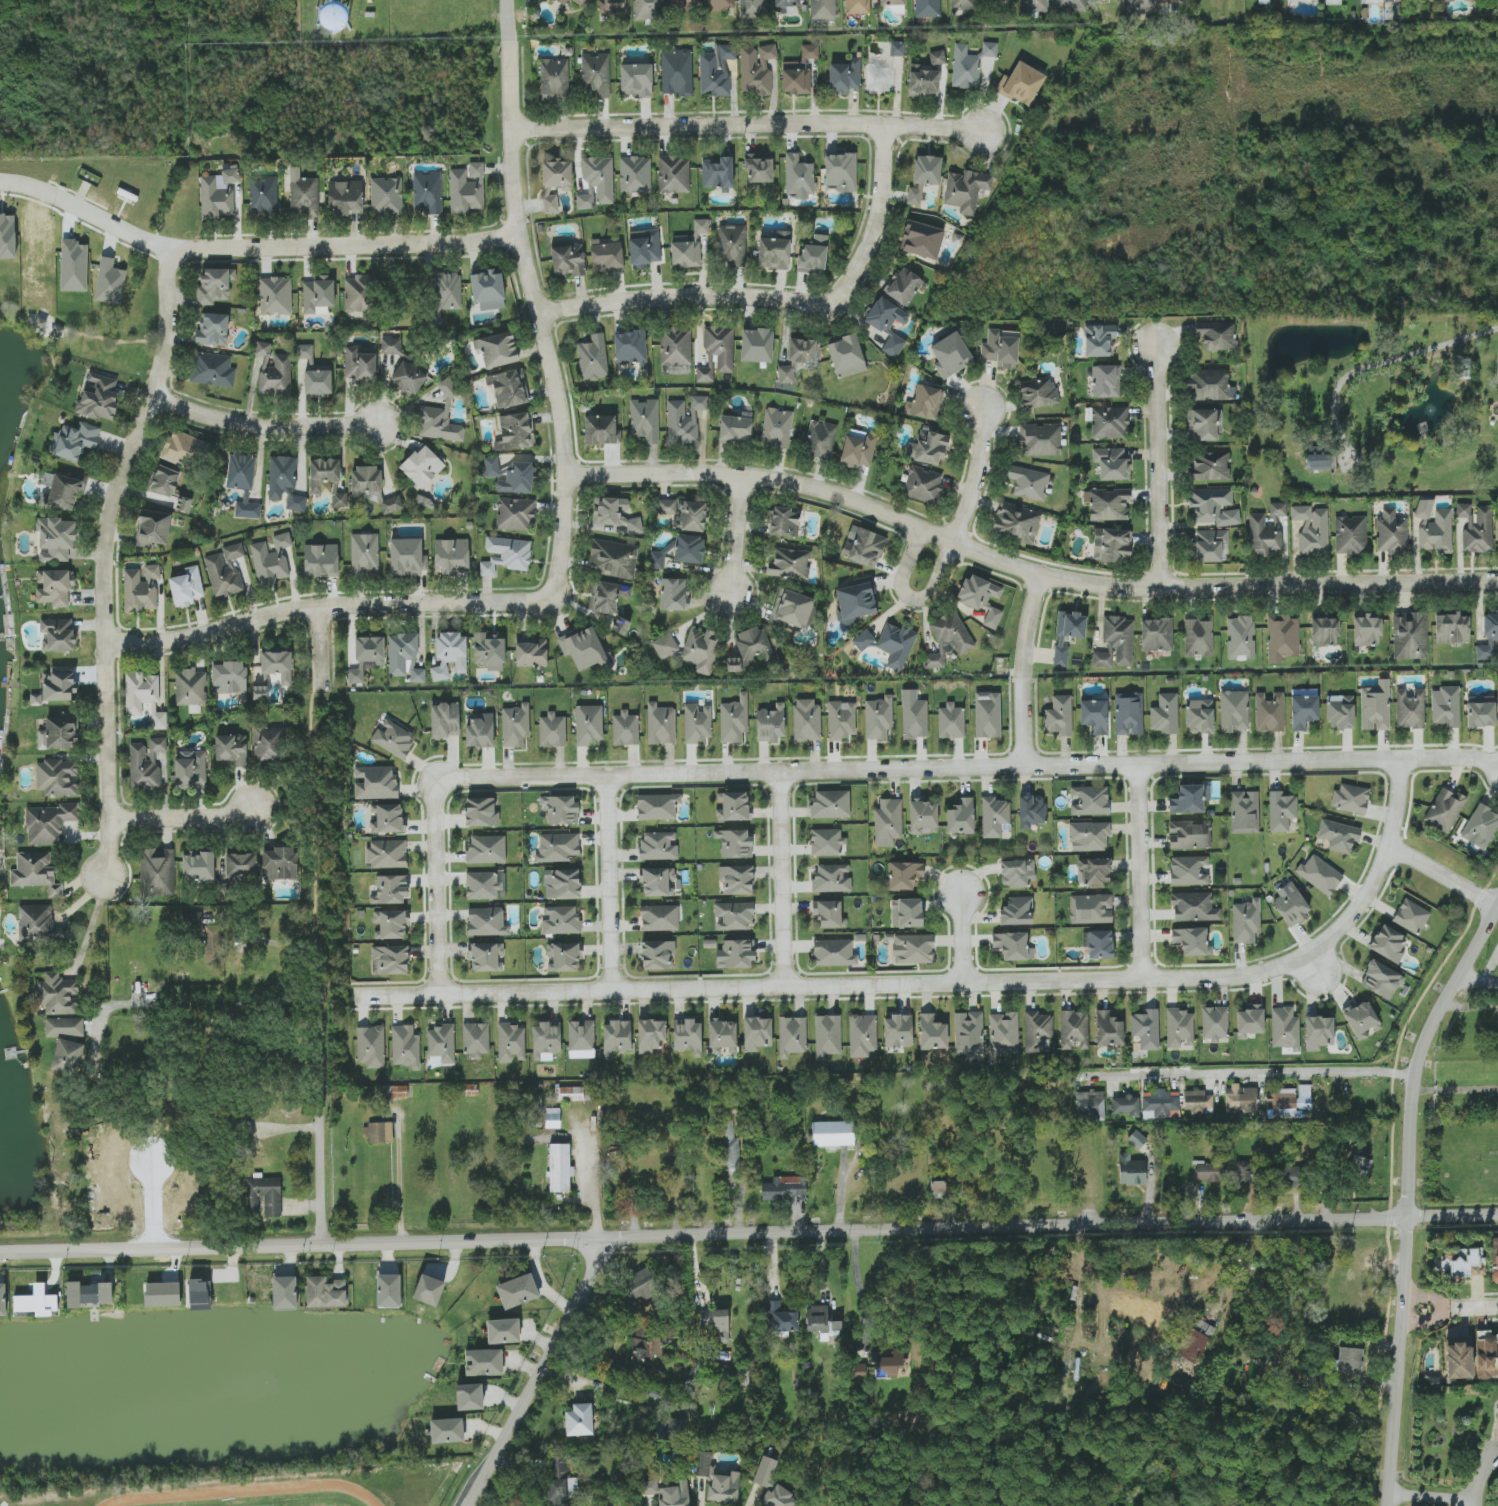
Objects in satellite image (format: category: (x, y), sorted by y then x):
building: (999, 0)
building: (1448, 0)
building: (563, 1)
building: (1172, 1)
building: (1373, 1)
building: (579, 2)
building: (684, 2)
building: (1332, 2)
building: (719, 4)
building: (963, 4)
building: (787, 5)
building: (894, 5)
building: (1035, 5)
building: (1070, 5)
building: (612, 6)
building: (857, 6)
building: (1140, 6)
building: (649, 8)
building: (751, 8)
building: (927, 8)
building: (823, 9)
water tower: (327, 16)
building: (937, 57)
building: (969, 64)
building: (756, 69)
building: (715, 70)
building: (676, 71)
building: (883, 71)
building: (799, 72)
building: (596, 74)
building: (844, 76)
building: (554, 79)
building: (636, 79)
building: (923, 82)
building: (1022, 83)
road: (748, 122)
building: (759, 168)
building: (717, 172)
building: (841, 173)
building: (556, 174)
building: (635, 174)
building: (674, 174)
building: (799, 176)
building: (923, 176)
building: (596, 182)
building: (467, 189)
building: (966, 190)
building: (427, 192)
building: (219, 194)
building: (303, 194)
building: (263, 195)
building: (387, 195)
building: (345, 198)
building: (550, 203)
road: (89, 213)
road: (879, 221)
building: (7, 235)
building: (922, 240)
building: (732, 244)
road: (342, 245)
building: (689, 246)
building: (644, 247)
building: (774, 251)
building: (607, 255)
building: (812, 255)
building: (568, 260)
building: (74, 265)
building: (109, 282)
building: (214, 285)
building: (904, 286)
building: (488, 289)
building: (447, 291)
building: (361, 293)
building: (318, 295)
building: (275, 296)
road: (685, 296)
road: (537, 301)
building: (886, 323)
building: (213, 329)
building: (1216, 335)
building: (1099, 340)
building: (757, 345)
building: (391, 346)
building: (675, 346)
building: (1001, 347)
building: (263, 348)
building: (631, 348)
building: (497, 350)
building: (801, 350)
building: (304, 351)
building: (716, 353)
building: (951, 355)
building: (846, 356)
building: (593, 358)
road: (1387, 360)
building: (360, 366)
building: (213, 369)
building: (787, 373)
building: (275, 375)
building: (408, 378)
building: (1106, 380)
building: (318, 382)
building: (1211, 384)
building: (449, 387)
building: (509, 388)
building: (1038, 393)
building: (99, 397)
building: (699, 402)
building: (927, 402)
building: (645, 420)
building: (1109, 422)
building: (681, 423)
road: (261, 424)
building: (438, 424)
building: (1205, 424)
building: (736, 428)
building: (776, 428)
building: (601, 430)
building: (514, 431)
building: (1040, 439)
building: (821, 440)
building: (76, 441)
building: (928, 447)
building: (858, 448)
building: (185, 449)
building: (1318, 458)
building: (1112, 463)
building: (1210, 465)
building: (422, 466)
road: (1161, 468)
building: (281, 475)
building: (509, 475)
road: (976, 477)
building: (47, 479)
building: (327, 480)
building: (164, 481)
building: (1028, 482)
building: (243, 484)
building: (923, 485)
building: (372, 488)
building: (63, 492)
building: (295, 500)
building: (1107, 503)
building: (667, 506)
building: (1213, 506)
building: (1277, 509)
building: (515, 514)
building: (614, 514)
building: (690, 516)
building: (783, 522)
building: (1016, 522)
building: (154, 528)
building: (1433, 528)
building: (1476, 528)
building: (1312, 530)
building: (1391, 533)
road: (738, 534)
building: (1350, 535)
building: (1264, 537)
building: (56, 538)
building: (1112, 545)
building: (1211, 545)
building: (864, 548)
building: (689, 549)
building: (505, 554)
building: (365, 555)
building: (407, 556)
building: (451, 556)
building: (272, 559)
building: (613, 559)
building: (321, 560)
building: (657, 560)
building: (790, 563)
road: (101, 564)
road: (1025, 569)
building: (225, 570)
building: (187, 586)
building: (55, 587)
building: (141, 588)
building: (978, 591)
building: (674, 594)
building: (607, 597)
road: (911, 597)
building: (855, 602)
road: (325, 606)
building: (793, 609)
building: (992, 617)
building: (621, 625)
building: (1451, 627)
building: (1367, 630)
building: (1324, 631)
building: (57, 634)
building: (1067, 634)
building: (1156, 634)
building: (1198, 636)
building: (1410, 636)
building: (1282, 637)
building: (948, 638)
building: (1240, 638)
building: (1489, 638)
building: (1116, 642)
building: (891, 644)
road: (317, 645)
building: (665, 646)
building: (583, 648)
building: (702, 649)
building: (749, 649)
building: (489, 650)
building: (449, 654)
building: (367, 657)
building: (404, 657)
building: (277, 665)
road: (1025, 670)
building: (229, 677)
building: (59, 685)
building: (191, 687)
building: (260, 692)
building: (143, 697)
building: (36, 699)
building: (1375, 706)
building: (1445, 706)
building: (1410, 709)
building: (1233, 710)
building: (1303, 711)
building: (1480, 711)
building: (1269, 712)
building: (1340, 712)
building: (1128, 713)
building: (987, 714)
building: (1165, 714)
building: (914, 715)
building: (1094, 715)
building: (1059, 716)
building: (1200, 716)
building: (878, 718)
building: (734, 719)
building: (807, 719)
building: (445, 720)
building: (842, 720)
building: (951, 721)
building: (697, 722)
building: (589, 724)
building: (661, 724)
building: (770, 724)
building: (515, 725)
building: (625, 728)
building: (479, 730)
building: (552, 730)
building: (59, 733)
building: (393, 738)
building: (268, 745)
building: (231, 750)
building: (146, 763)
road: (965, 767)
building: (191, 769)
building: (57, 777)
building: (375, 782)
building: (1350, 798)
building: (1190, 799)
building: (1089, 800)
building: (830, 804)
building: (657, 806)
building: (733, 806)
building: (561, 809)
building: (1031, 810)
building: (1281, 810)
building: (1444, 810)
building: (482, 811)
building: (1244, 811)
building: (923, 815)
building: (961, 816)
building: (994, 816)
road: (179, 818)
building: (386, 818)
building: (888, 822)
building: (49, 823)
building: (1480, 826)
building: (1189, 834)
building: (1089, 836)
building: (1339, 836)
building: (827, 842)
building: (734, 843)
building: (657, 846)
building: (557, 847)
building: (486, 849)
building: (387, 853)
building: (279, 863)
building: (241, 865)
building: (198, 866)
building: (1189, 870)
building: (35, 871)
building: (157, 871)
building: (1016, 872)
building: (1093, 872)
road: (1141, 873)
building: (1319, 874)
building: (903, 875)
road: (1444, 875)
building: (831, 878)
building: (736, 879)
road: (783, 880)
building: (658, 882)
building: (563, 883)
road: (611, 883)
building: (482, 885)
road: (433, 887)
building: (389, 889)
building: (1291, 905)
building: (1194, 907)
building: (1090, 908)
building: (1017, 911)
building: (906, 912)
building: (829, 913)
building: (733, 916)
building: (1411, 916)
building: (659, 917)
building: (560, 920)
building: (486, 921)
building: (1246, 921)
building: (389, 924)
building: (40, 925)
road: (91, 925)
building: (212, 936)
road: (962, 937)
building: (1190, 940)
building: (1387, 943)
building: (1100, 944)
road: (1479, 944)
building: (1013, 945)
building: (913, 949)
building: (834, 952)
building: (737, 953)
building: (657, 955)
building: (486, 956)
building: (563, 956)
building: (390, 959)
building: (1380, 979)
road: (1478, 982)
road: (949, 983)
building: (58, 994)
road: (195, 1001)
road: (317, 1003)
building: (1362, 1019)
building: (1250, 1021)
building: (1214, 1023)
building: (64, 1027)
building: (1179, 1028)
building: (1285, 1028)
building: (1108, 1029)
building: (1146, 1029)
building: (1074, 1030)
building: (898, 1031)
building: (932, 1032)
building: (1038, 1032)
building: (1318, 1032)
building: (757, 1033)
building: (968, 1033)
building: (1003, 1033)
building: (650, 1035)
building: (792, 1035)
building: (827, 1035)
building: (862, 1035)
building: (687, 1036)
building: (721, 1036)
building: (616, 1037)
building: (476, 1039)
building: (581, 1039)
building: (545, 1040)
building: (510, 1042)
building: (441, 1043)
building: (371, 1046)
building: (405, 1046)
building: (67, 1057)
road: (1248, 1070)
road: (1456, 1084)
building: (398, 1091)
building: (569, 1094)
building: (1288, 1097)
building: (1241, 1099)
building: (1197, 1102)
building: (1160, 1103)
building: (1089, 1104)
building: (1126, 1105)
building: (552, 1118)
building: (378, 1132)
building: (832, 1133)
building: (1137, 1139)
building: (730, 1145)
building: (560, 1167)
building: (1131, 1170)
building: (1208, 1171)
building: (1242, 1173)
road: (1391, 1175)
building: (1292, 1176)
road: (322, 1178)
building: (785, 1187)
road: (399, 1188)
building: (937, 1188)
building: (263, 1196)
road: (749, 1232)
road: (1406, 1237)
building: (1494, 1260)
building: (1467, 1262)
road: (857, 1281)
building: (642, 1284)
building: (388, 1290)
building: (428, 1290)
building: (517, 1291)
building: (325, 1292)
building: (88, 1293)
building: (284, 1293)
building: (161, 1294)
building: (199, 1294)
building: (3, 1299)
building: (37, 1301)
road: (1470, 1307)
building: (1140, 1309)
road: (1441, 1309)
building: (780, 1319)
building: (820, 1321)
building: (715, 1323)
building: (503, 1331)
building: (1192, 1345)
building: (645, 1346)
building: (1486, 1354)
building: (1457, 1359)
building: (1349, 1360)
building: (483, 1362)
building: (888, 1366)
road: (535, 1370)
building: (469, 1396)
building: (579, 1420)
building: (446, 1430)
building: (704, 1463)
park: (1123, 1464)
building: (766, 1471)
road: (1485, 1475)
building: (561, 1482)
building: (724, 1488)
track: (242, 1492)
building: (668, 1493)
road: (1432, 1498)
road: (1473, 1504)

